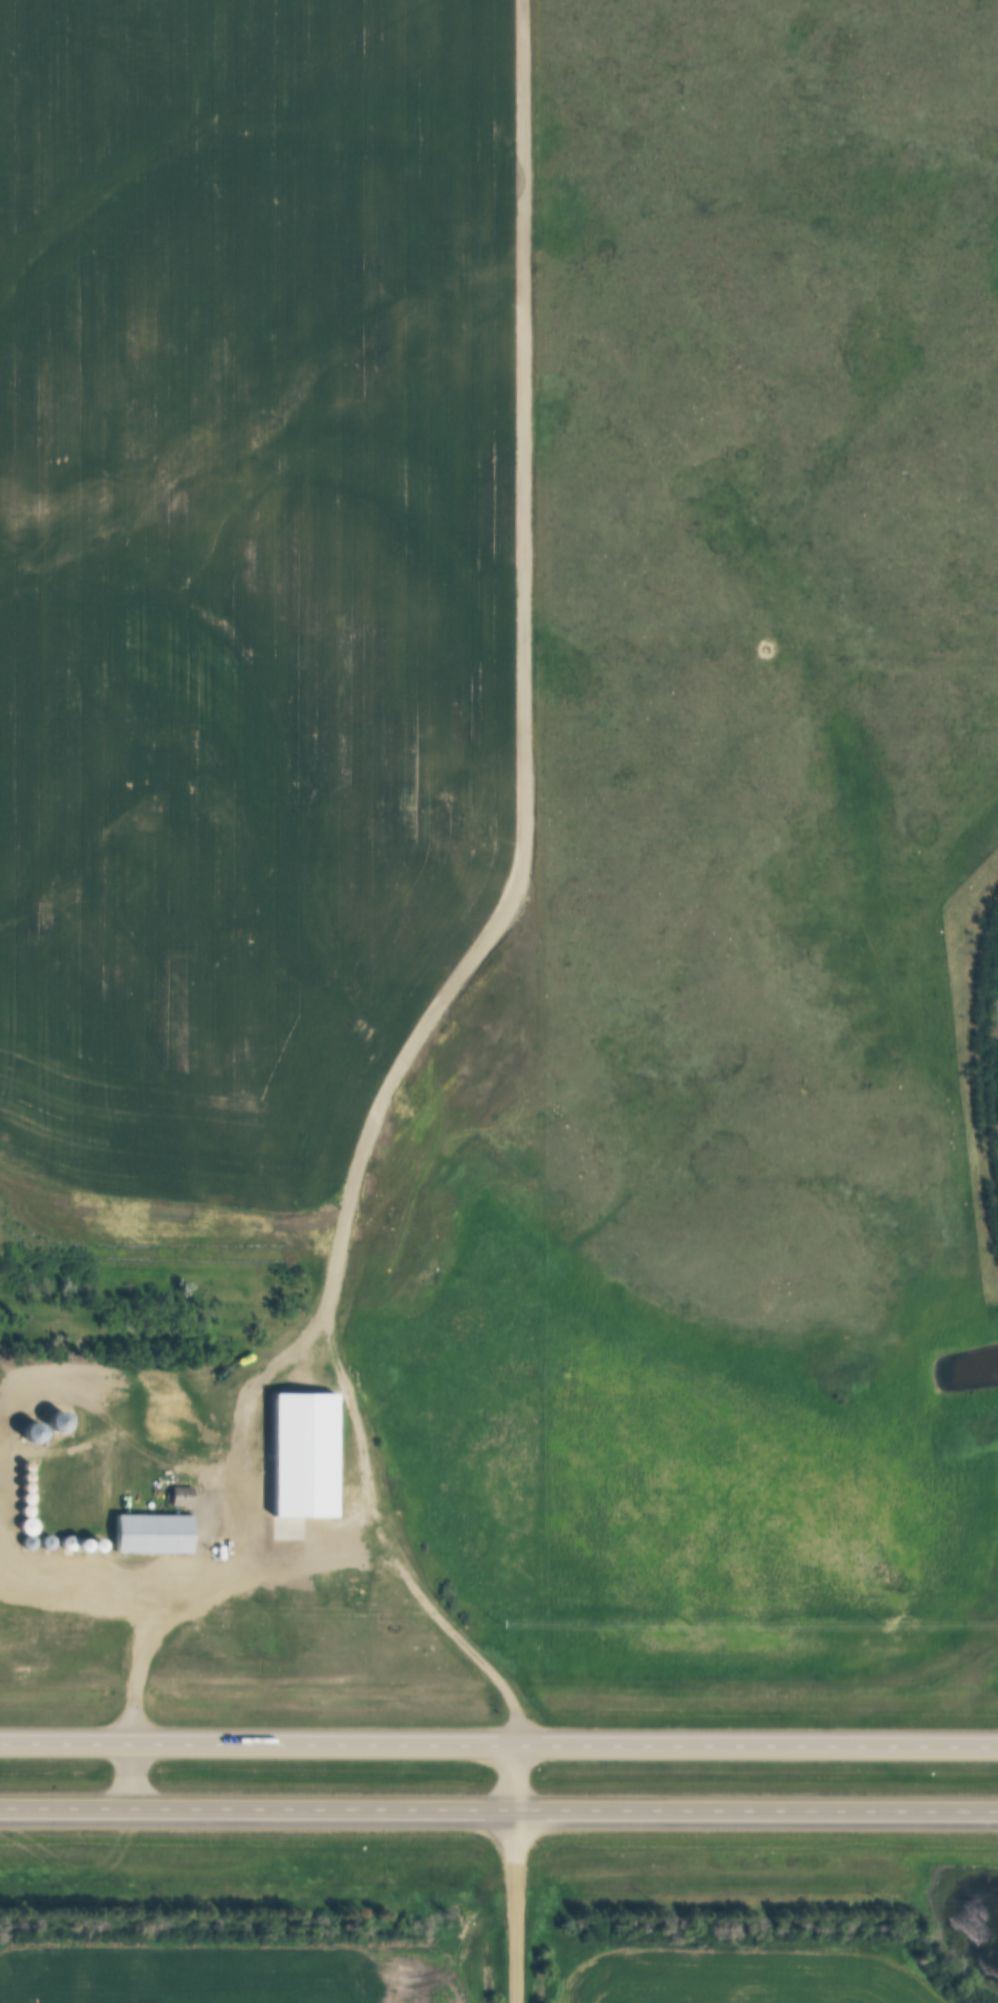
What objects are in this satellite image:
road: (526, 683)
road: (31, 1394)
building: (56, 1420)
building: (30, 1431)
building: (179, 1494)
building: (151, 1532)
road: (250, 1537)
road: (62, 1580)
road: (498, 1746)
road: (129, 1776)
road: (514, 1778)
road: (498, 1808)
road: (515, 1905)

